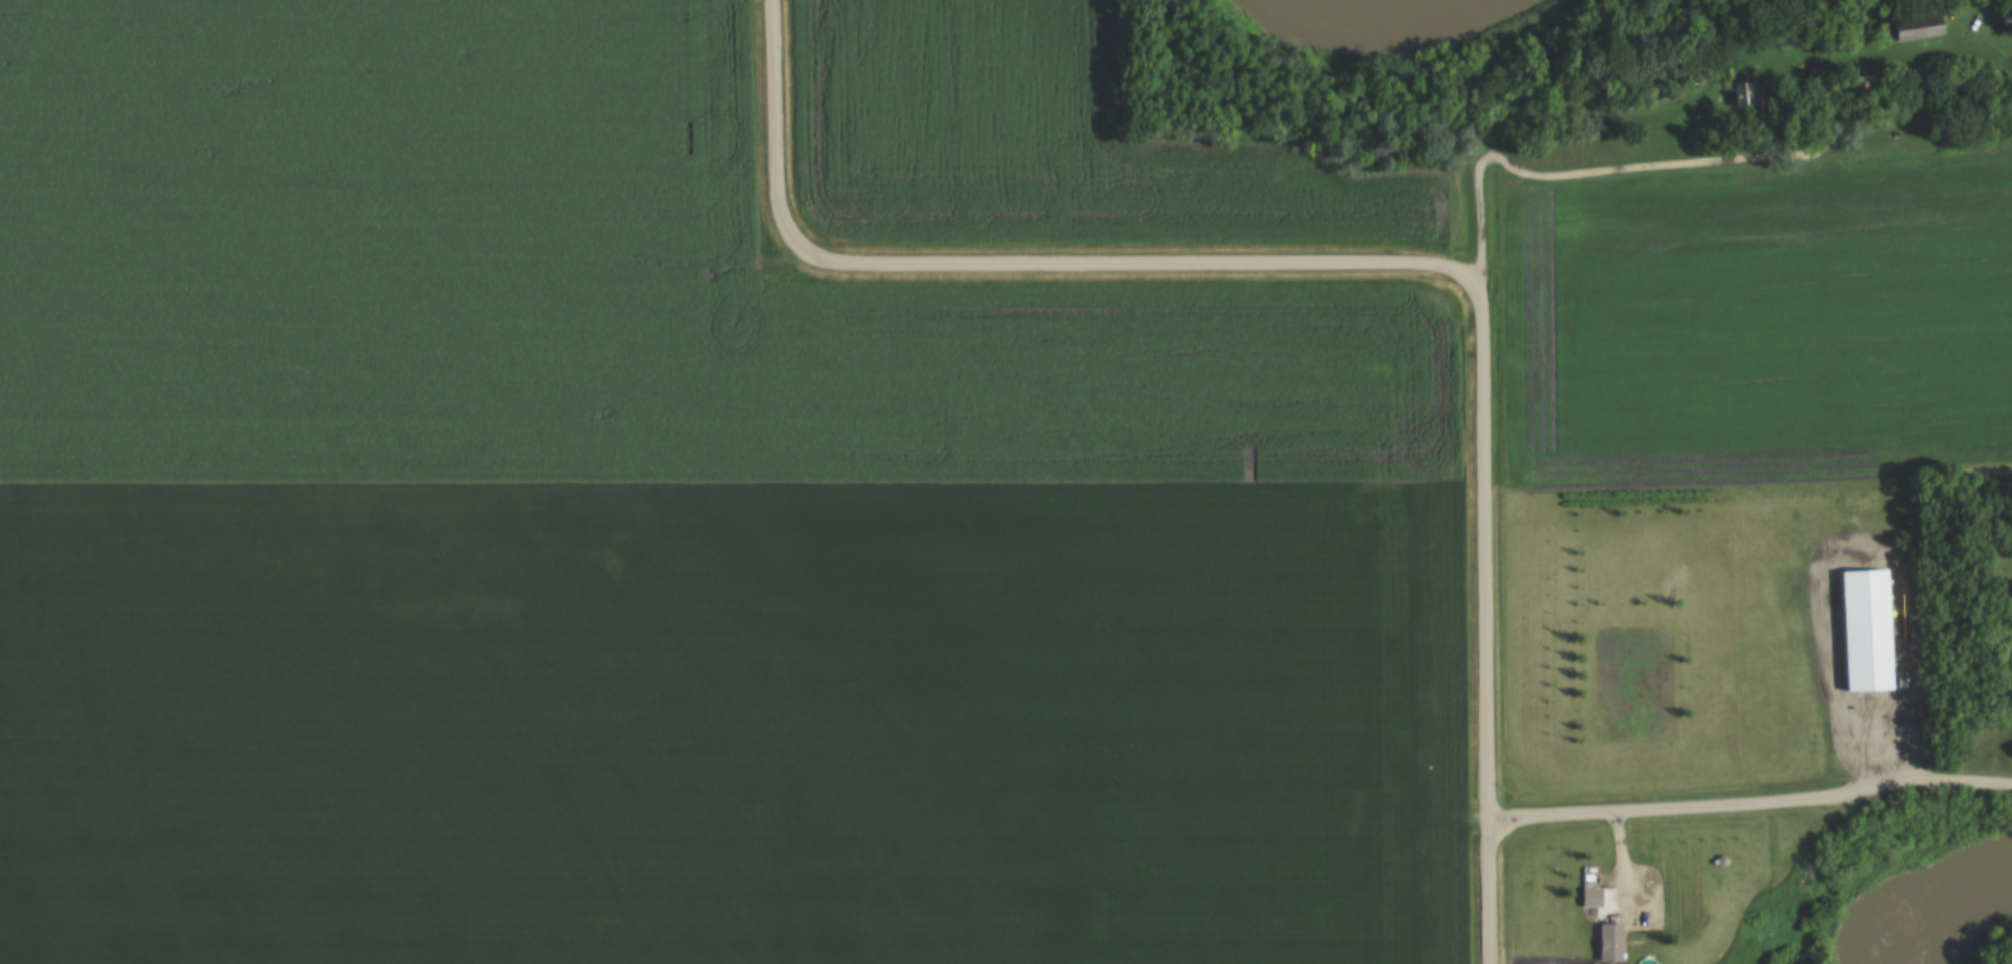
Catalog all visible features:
building: (2005, 22)
building: (1914, 32)
road: (1592, 94)
road: (1346, 270)
building: (1863, 633)
road: (1749, 808)
river: (1911, 881)

